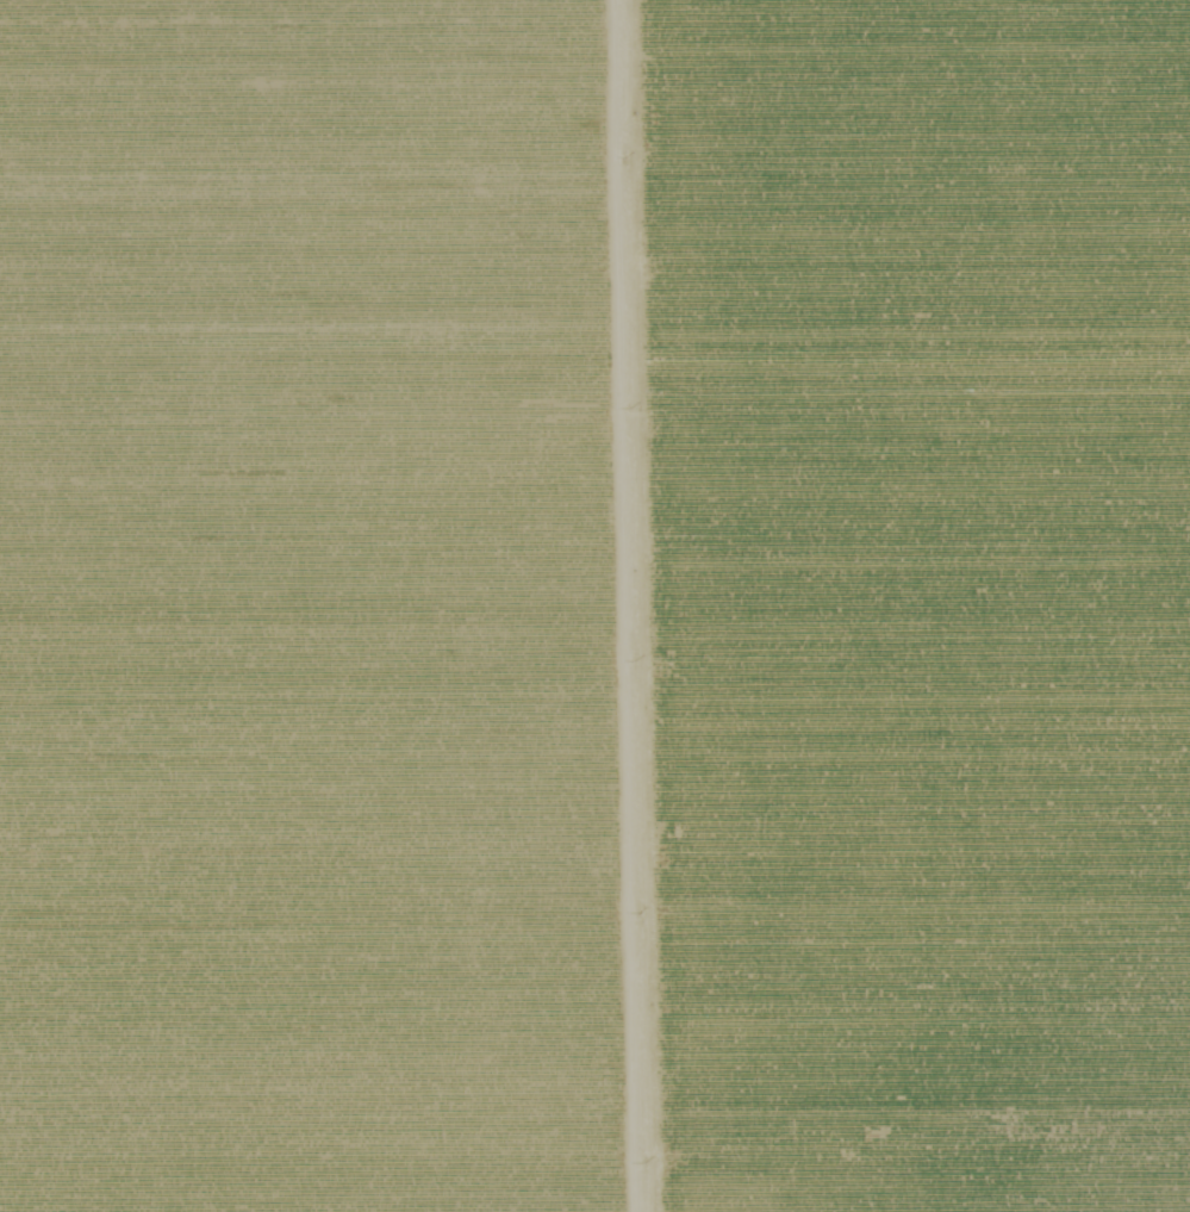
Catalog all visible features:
crop: (909, 602)
crop: (314, 609)

